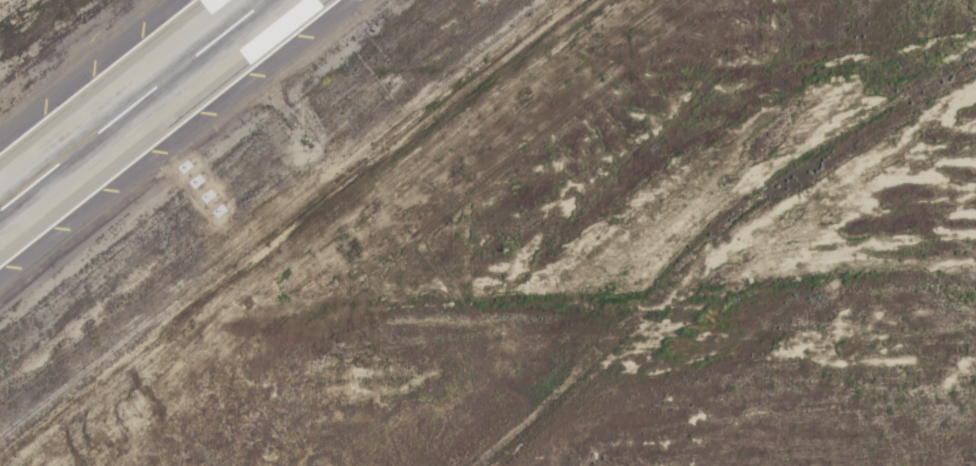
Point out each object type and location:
airport runway: (131, 104)
airport taxiway: (3, 204)

